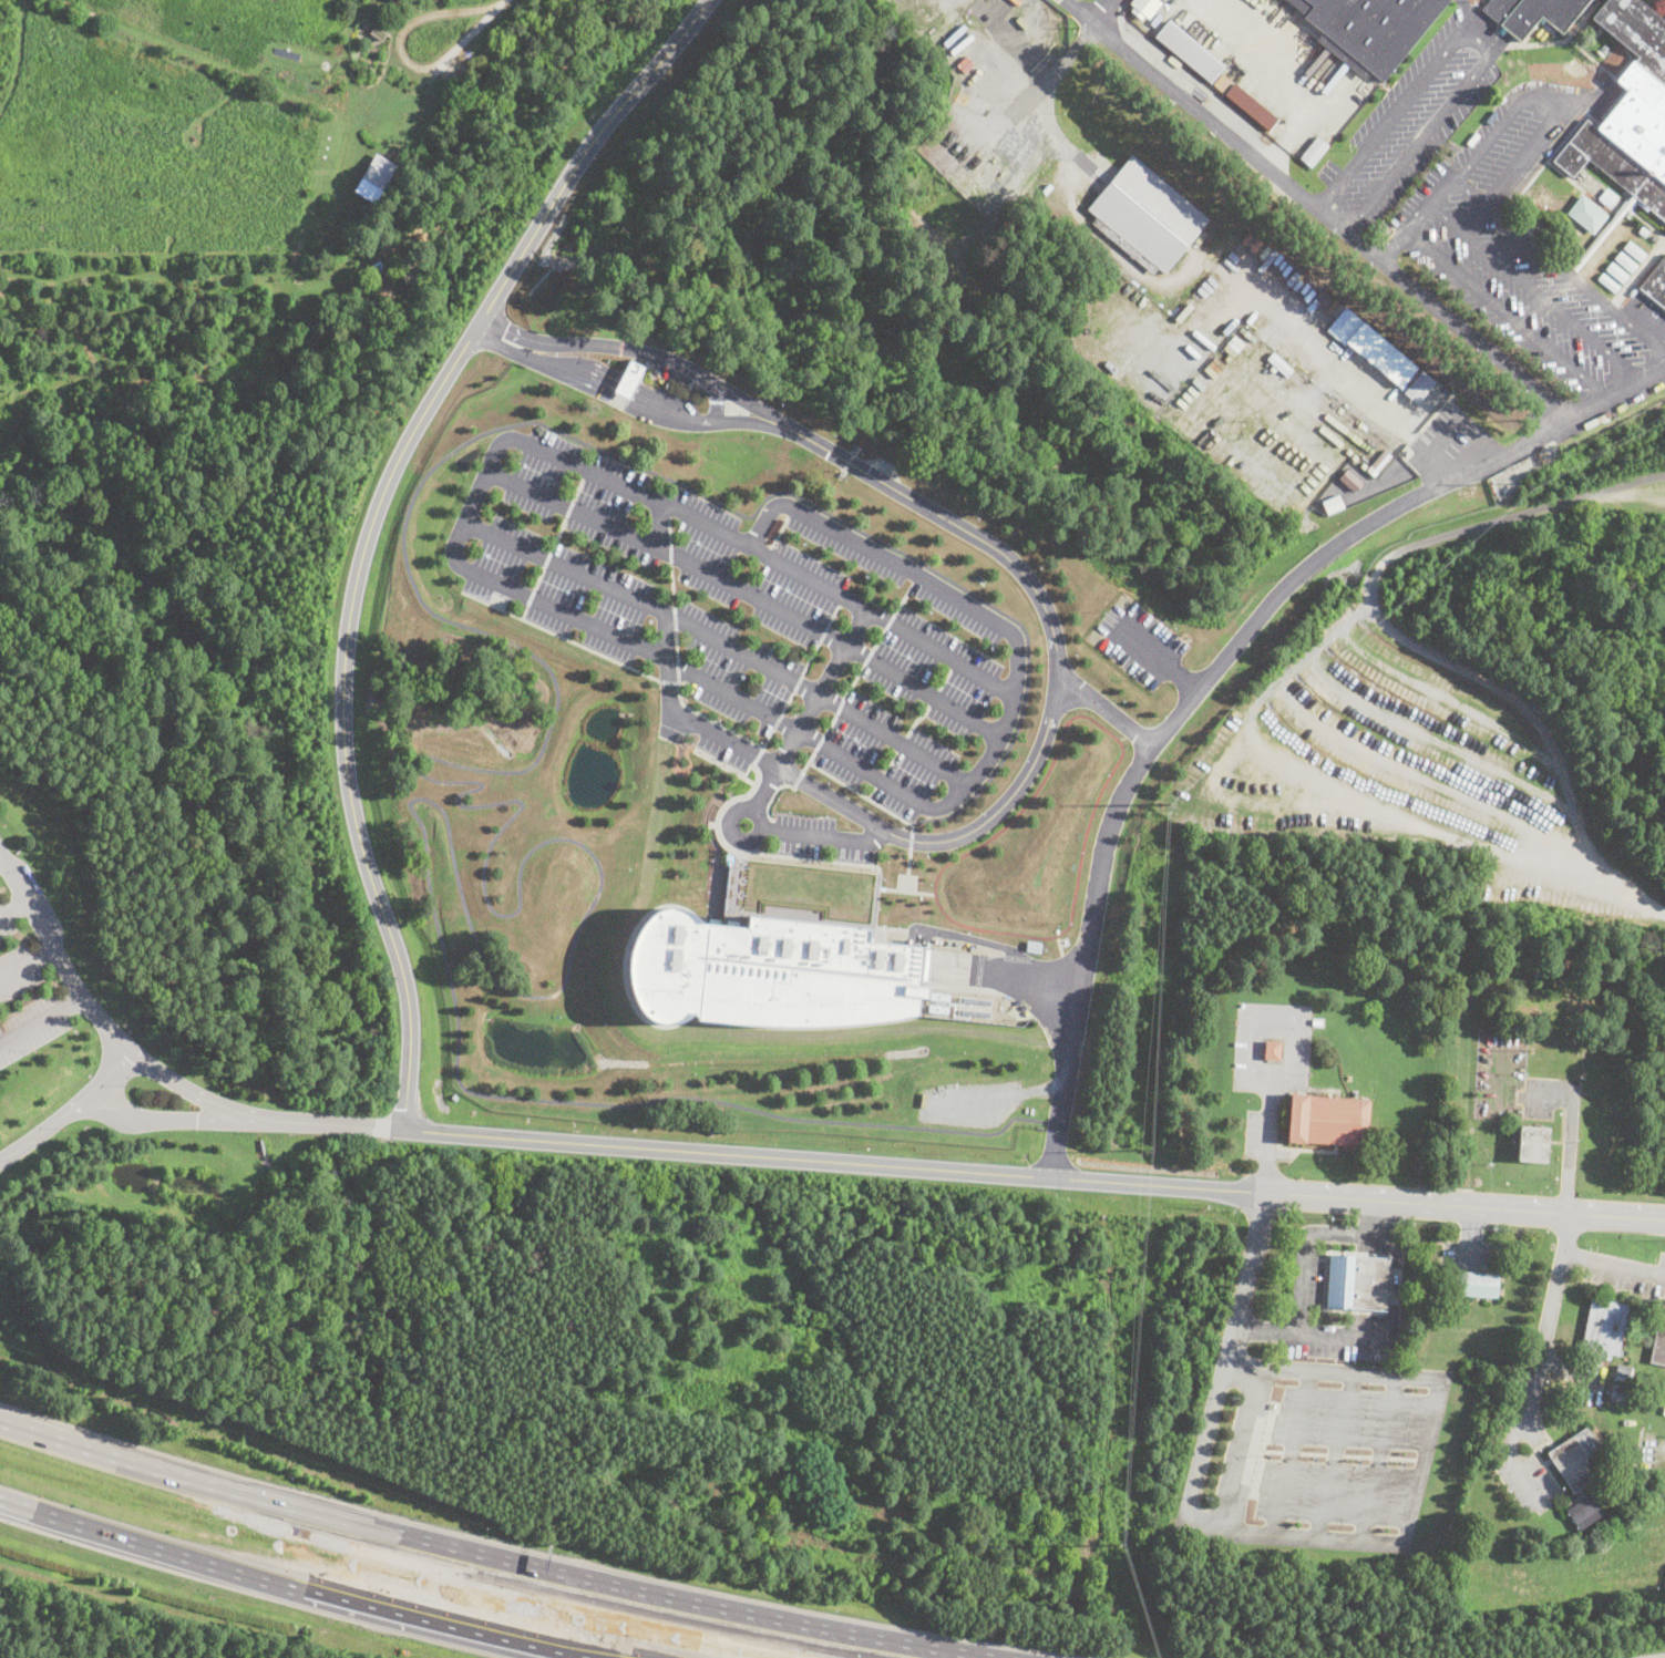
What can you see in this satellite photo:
building: (1600, 1)
road: (497, 6)
building: (1144, 7)
road: (1102, 11)
building: (1532, 13)
building: (1368, 29)
building: (1501, 29)
building: (377, 32)
road: (1484, 39)
building: (1189, 51)
road: (401, 53)
road: (1283, 76)
road: (1549, 97)
building: (1251, 107)
building: (1628, 111)
parking lot: (1409, 123)
building: (442, 127)
building: (1313, 152)
building: (376, 177)
park: (464, 184)
building: (1607, 198)
road: (1315, 207)
building: (1587, 213)
building: (1144, 216)
road: (1416, 219)
building: (1607, 224)
building: (1643, 231)
building: (1633, 251)
parking lot: (1527, 258)
building: (1625, 261)
road: (1558, 264)
building: (377, 266)
building: (1617, 272)
road: (1186, 274)
building: (1609, 284)
building: (1655, 284)
road: (1532, 289)
road: (1505, 311)
building: (1371, 348)
road: (639, 350)
building: (1279, 363)
road: (1262, 375)
building: (629, 378)
building: (1419, 387)
road: (624, 400)
road: (716, 403)
building: (1378, 463)
road: (592, 470)
road: (585, 472)
building: (1350, 480)
road: (578, 488)
power tower: (1524, 490)
building: (1330, 502)
road: (569, 507)
road: (666, 509)
road: (791, 509)
road: (372, 518)
road: (661, 526)
road: (669, 529)
road: (779, 532)
road: (558, 534)
road: (769, 550)
road: (670, 552)
road: (546, 558)
road: (539, 577)
road: (915, 577)
road: (672, 585)
road: (748, 596)
road: (531, 597)
road: (904, 597)
road: (841, 599)
road: (523, 611)
road: (833, 615)
road: (675, 617)
road: (891, 619)
road: (823, 632)
road: (559, 635)
road: (880, 639)
road: (1406, 639)
road: (676, 641)
road: (720, 641)
parking lot: (1137, 641)
road: (869, 657)
road: (811, 658)
road: (1158, 658)
road: (667, 659)
road: (954, 662)
road: (1216, 666)
road: (677, 667)
road: (944, 678)
road: (854, 680)
road: (668, 681)
road: (798, 682)
road: (933, 696)
road: (1448, 698)
road: (788, 701)
road: (840, 704)
road: (811, 708)
road: (1107, 709)
road: (712, 719)
road: (916, 719)
road: (777, 720)
road: (1006, 720)
road: (830, 724)
road: (1130, 732)
road: (1122, 738)
road: (767, 739)
road: (819, 741)
road: (1041, 741)
road: (1435, 742)
road: (902, 743)
road: (757, 755)
road: (808, 760)
road: (891, 761)
road: (723, 764)
road: (1114, 766)
road: (681, 771)
road: (798, 779)
road: (881, 779)
road: (1428, 782)
road: (1342, 786)
road: (872, 792)
road: (862, 794)
road: (772, 795)
road: (517, 800)
road: (723, 803)
power tower: (1163, 806)
road: (1256, 816)
road: (771, 825)
road: (763, 826)
road: (822, 834)
road: (909, 838)
road: (780, 843)
road: (864, 851)
road: (852, 862)
road: (717, 868)
road: (907, 869)
road: (733, 888)
road: (905, 890)
road: (12, 906)
road: (824, 920)
parking lot: (6, 921)
road: (972, 938)
road: (1059, 944)
building: (1034, 946)
road: (27, 962)
road: (1394, 965)
parking lot: (18, 971)
building: (767, 971)
road: (1004, 972)
road: (1069, 972)
building: (938, 995)
building: (937, 1008)
road: (94, 1011)
road: (41, 1019)
building: (1317, 1020)
parking lot: (31, 1026)
building: (1272, 1050)
road: (1292, 1051)
parking lot: (1270, 1064)
road: (998, 1099)
parking lot: (969, 1101)
road: (69, 1110)
road: (157, 1119)
building: (1328, 1119)
road: (322, 1123)
road: (1569, 1129)
building: (1532, 1144)
power tower: (1140, 1147)
road: (833, 1161)
road: (1464, 1206)
road: (1470, 1236)
road: (1304, 1247)
parking lot: (1468, 1254)
road: (1614, 1266)
parking lot: (1623, 1271)
road: (1244, 1279)
parking lot: (1308, 1279)
building: (1358, 1283)
building: (1476, 1285)
building: (1604, 1328)
road: (1386, 1337)
building: (1658, 1342)
building: (1365, 1355)
building: (1380, 1355)
road: (1538, 1367)
road: (1241, 1368)
road: (1568, 1371)
building: (1622, 1371)
road: (1349, 1373)
building: (1582, 1393)
building: (1617, 1394)
building: (1664, 1409)
road: (1533, 1432)
road: (1239, 1451)
road: (1289, 1454)
parking lot: (1312, 1454)
road: (1663, 1454)
road: (1333, 1456)
road: (1200, 1458)
building: (1574, 1459)
road: (1376, 1460)
road: (1421, 1462)
building: (1584, 1511)
road: (1309, 1538)
power tower: (1110, 1543)
road: (485, 1555)
road: (292, 1584)

